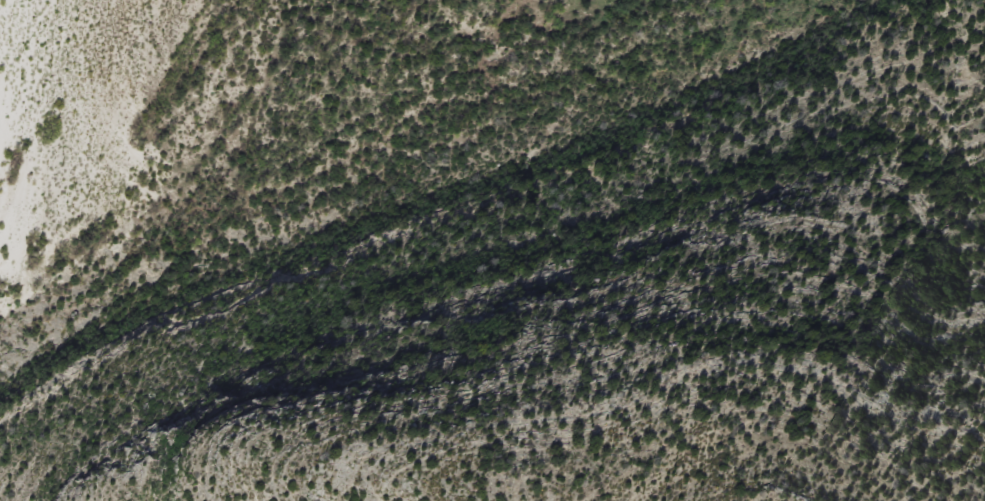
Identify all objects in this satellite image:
river: (82, 127)

